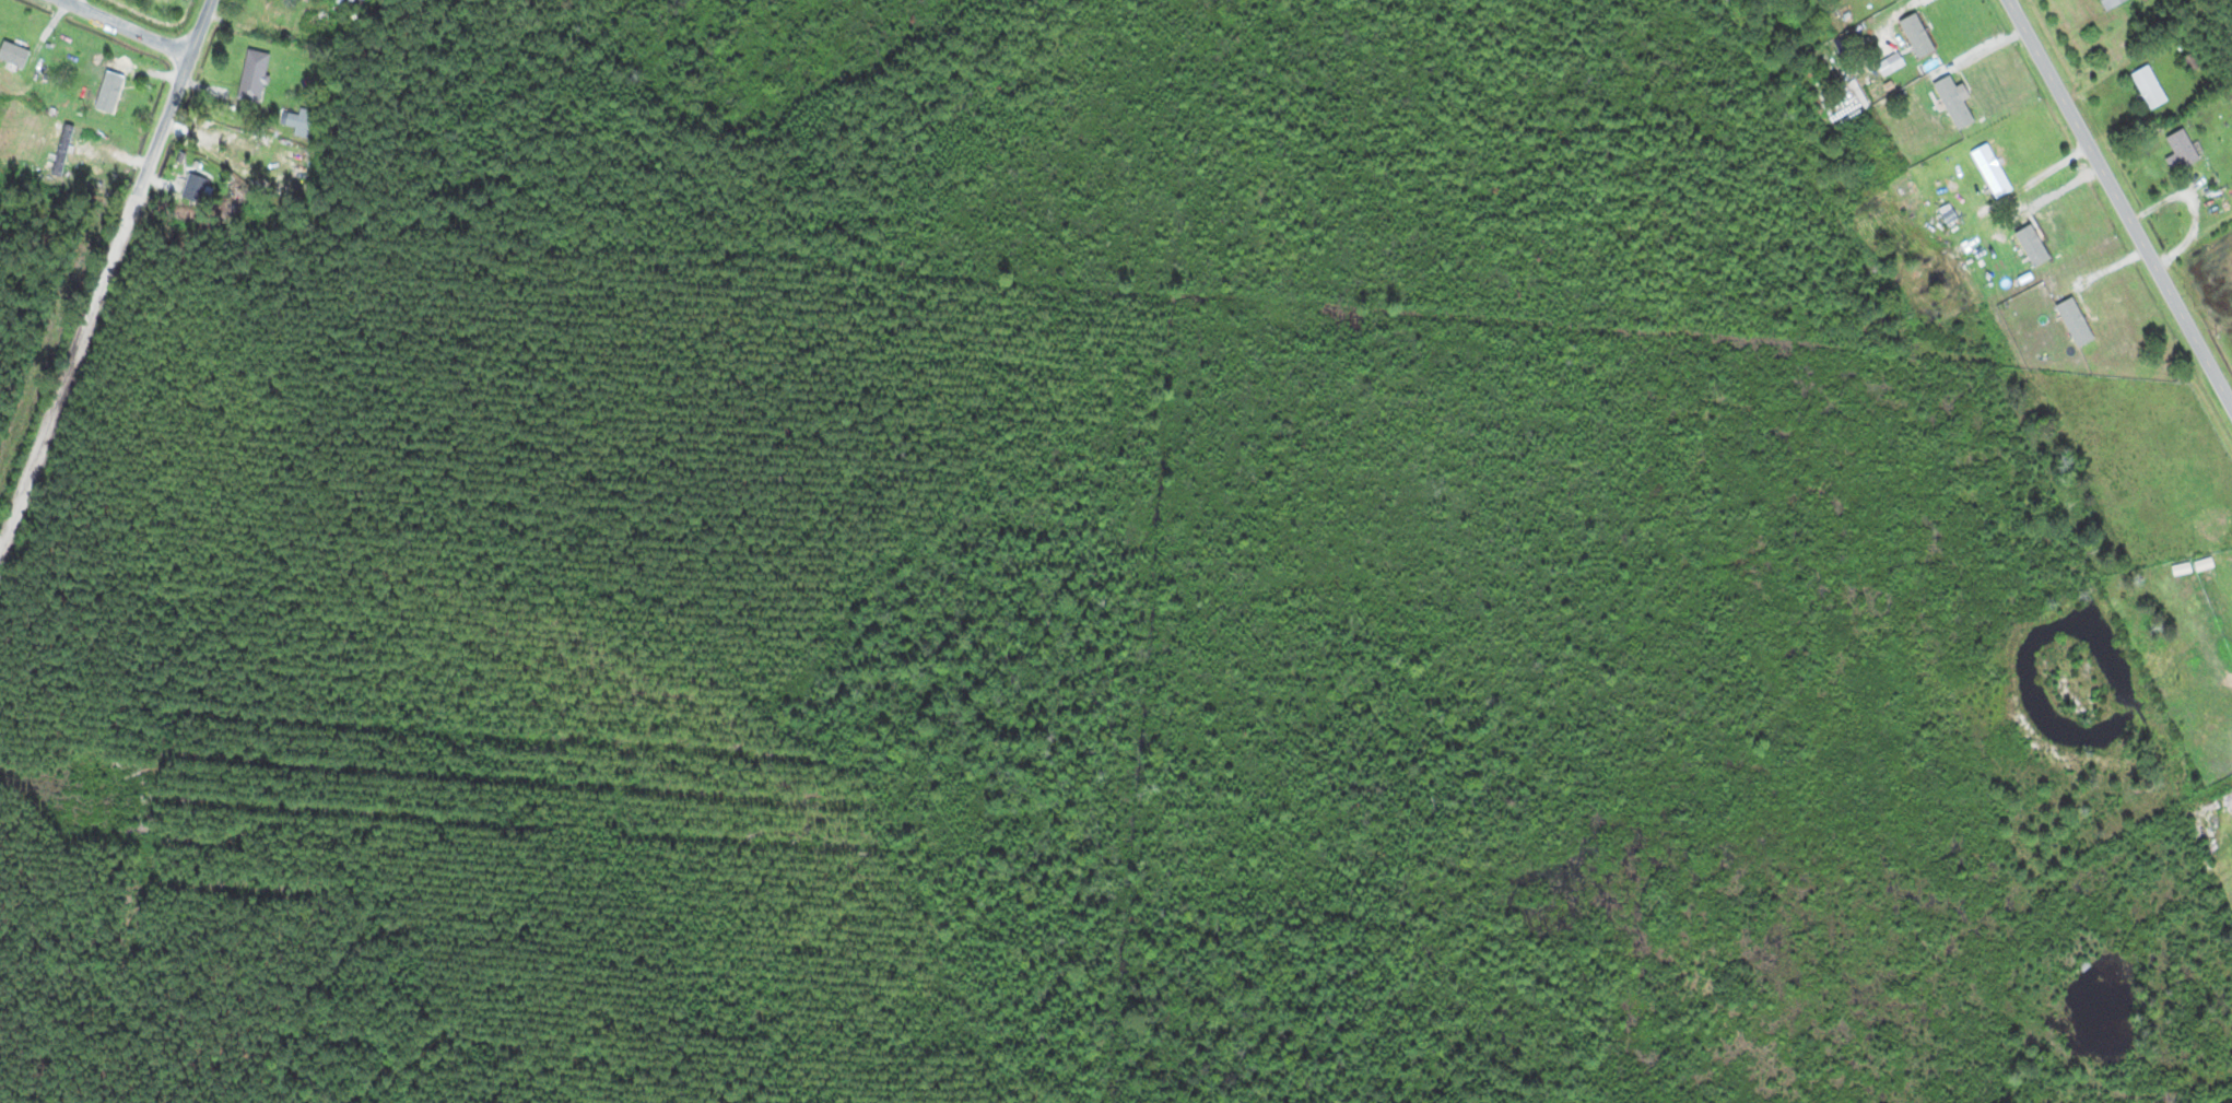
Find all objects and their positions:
building: (357, 0)
building: (2113, 2)
building: (266, 12)
road: (131, 25)
building: (13, 52)
building: (254, 74)
building: (2149, 85)
building: (111, 97)
building: (2182, 146)
building: (1990, 169)
building: (193, 187)
road: (2121, 199)
road: (105, 277)
building: (2228, 835)

